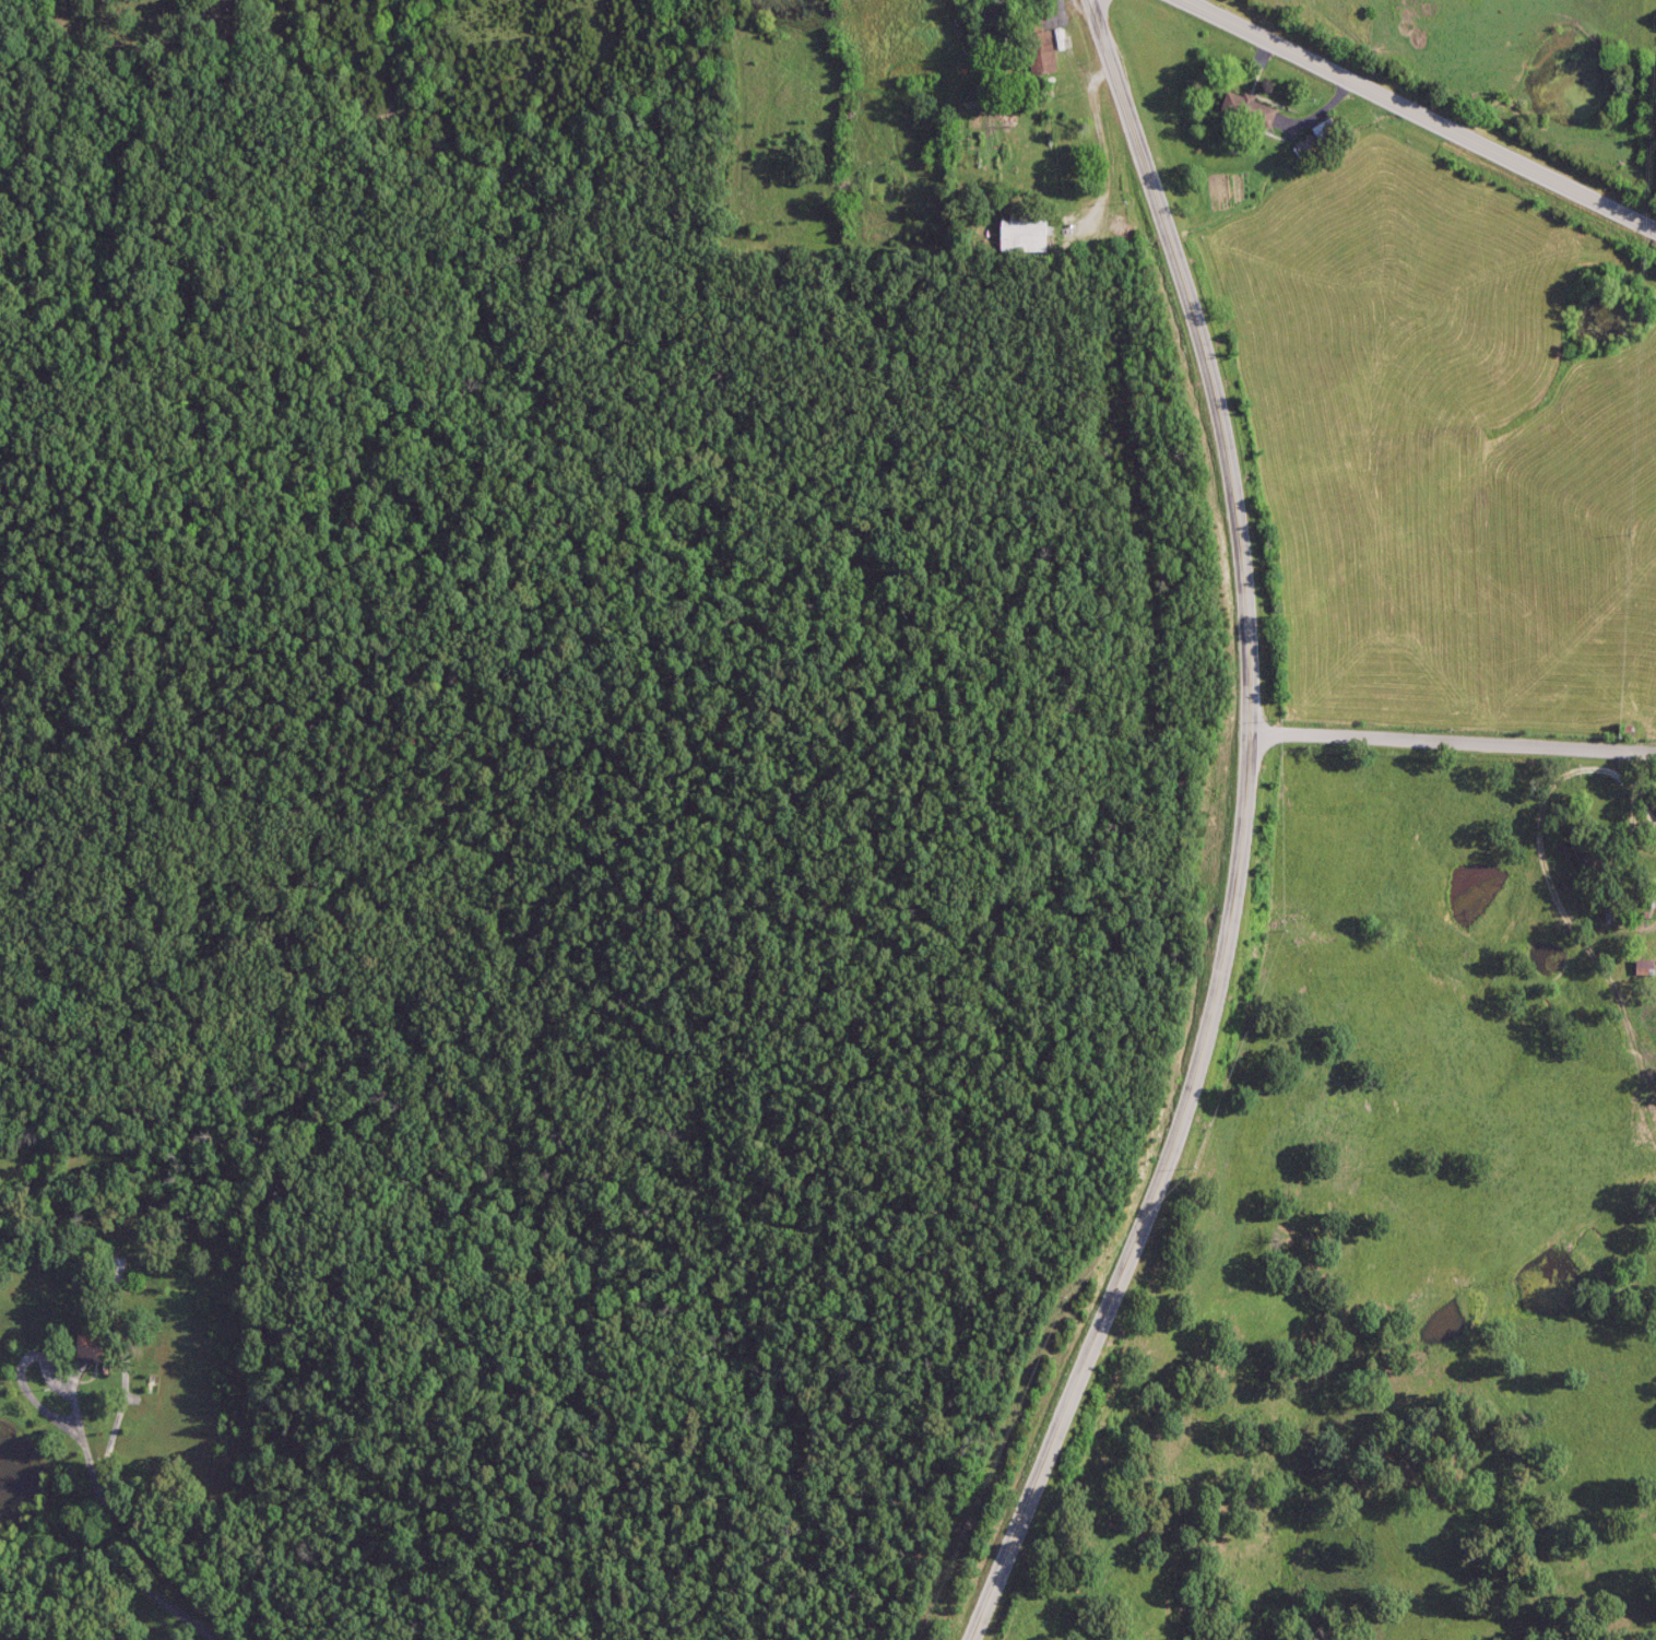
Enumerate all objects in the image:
road: (1099, 8)
building: (1038, 54)
building: (1245, 111)
road: (1421, 113)
building: (1322, 131)
building: (1024, 234)
road: (1448, 731)
road: (1235, 834)
building: (1642, 967)
road: (106, 1555)

